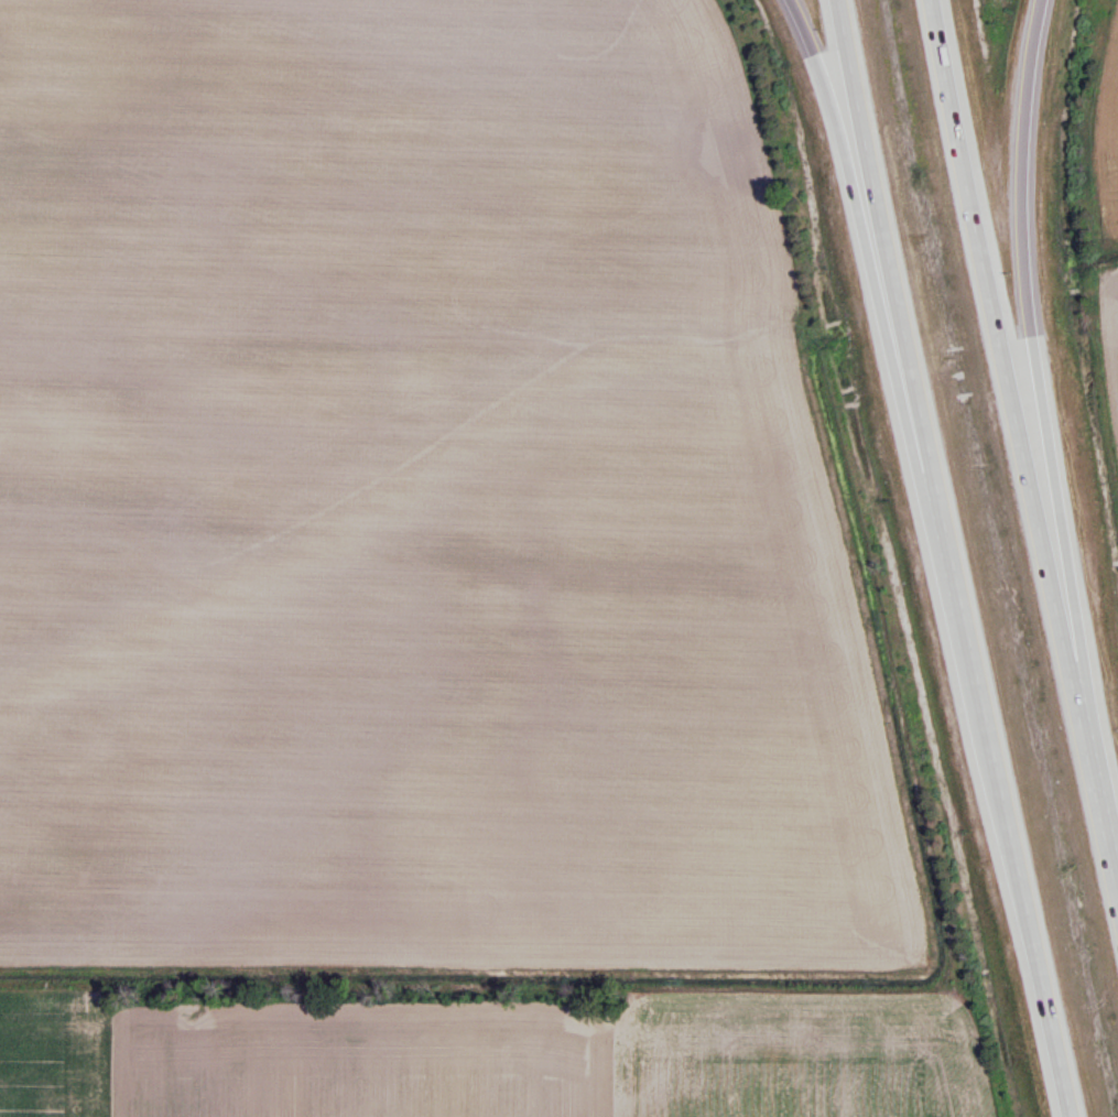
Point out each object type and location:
road: (849, 166)
road: (1017, 245)
road: (1021, 436)
road: (946, 560)

